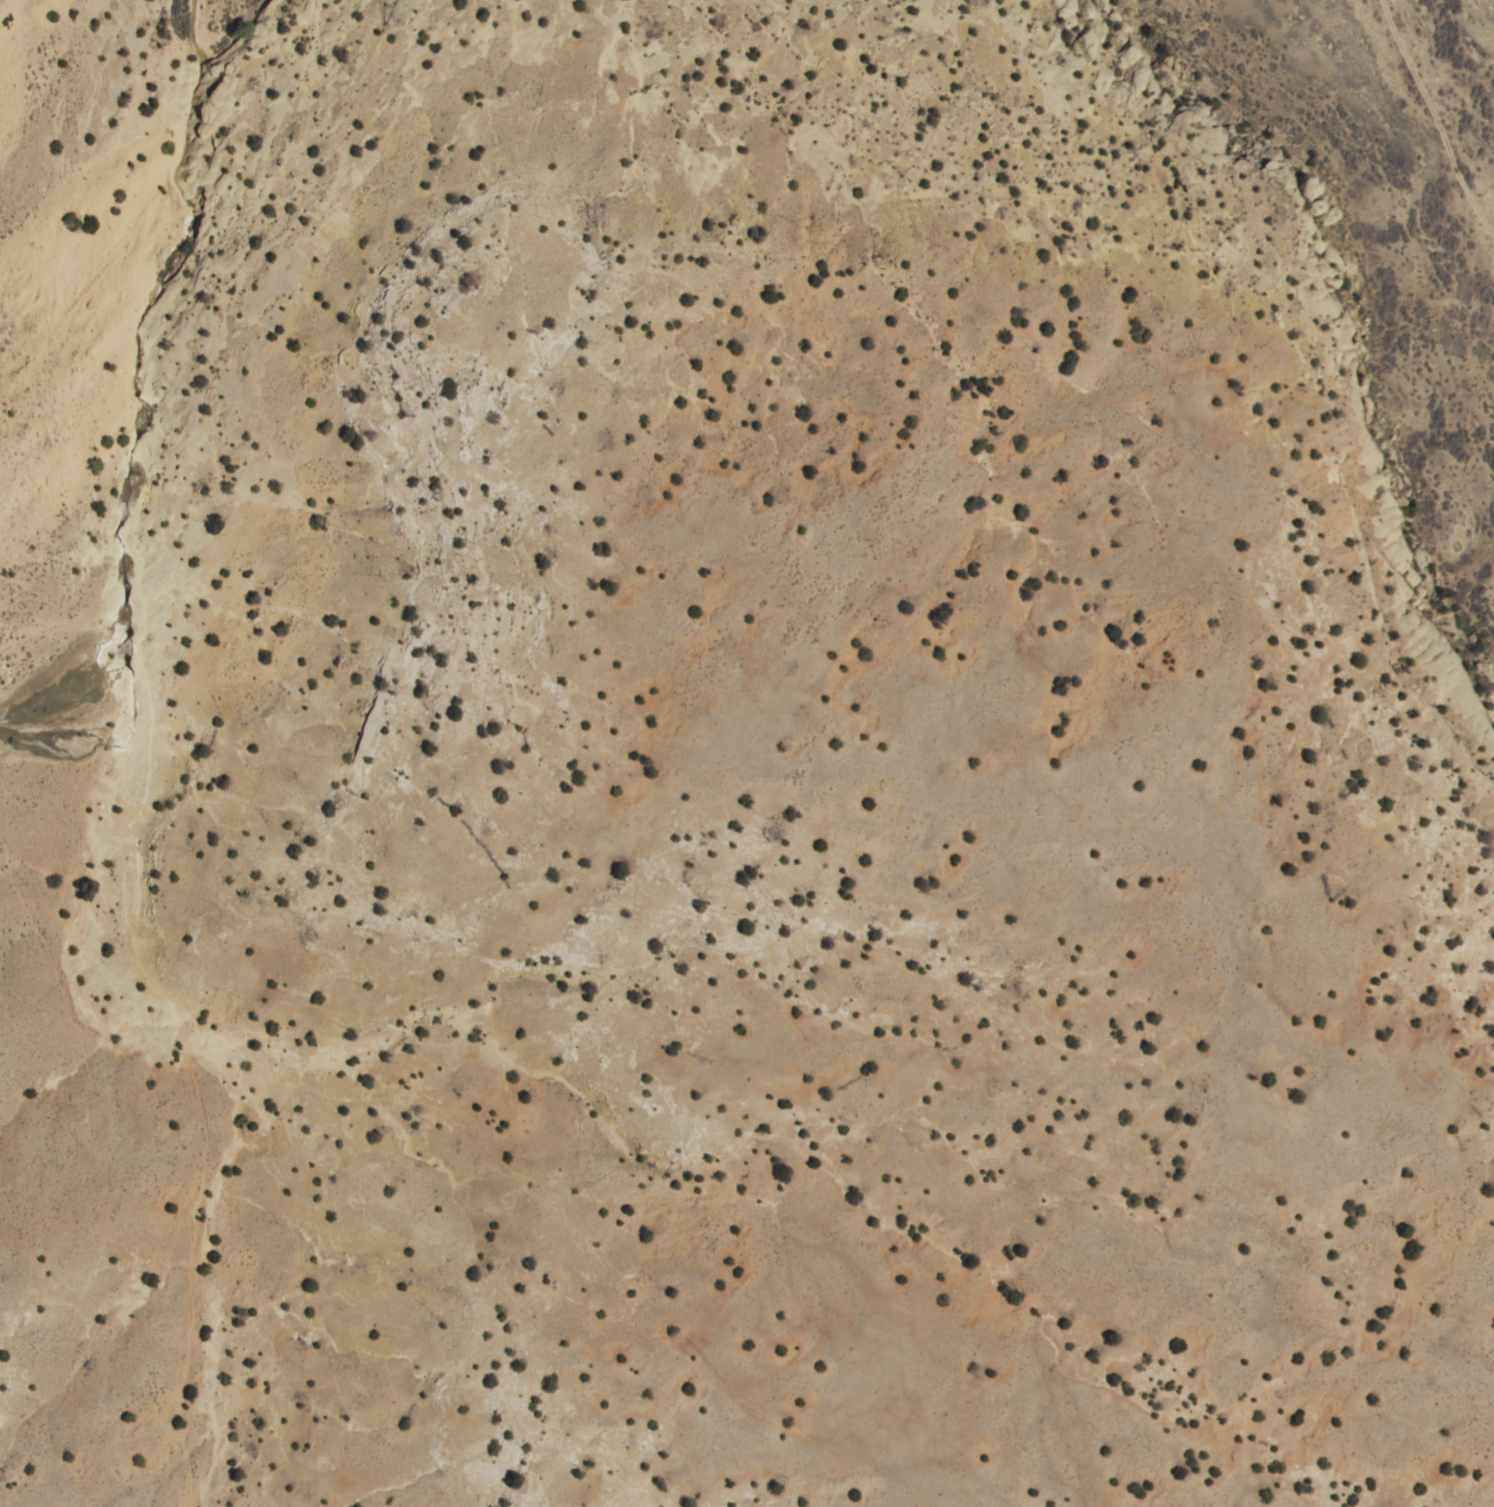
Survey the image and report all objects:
river: (1426, 116)
road: (32, 1403)

